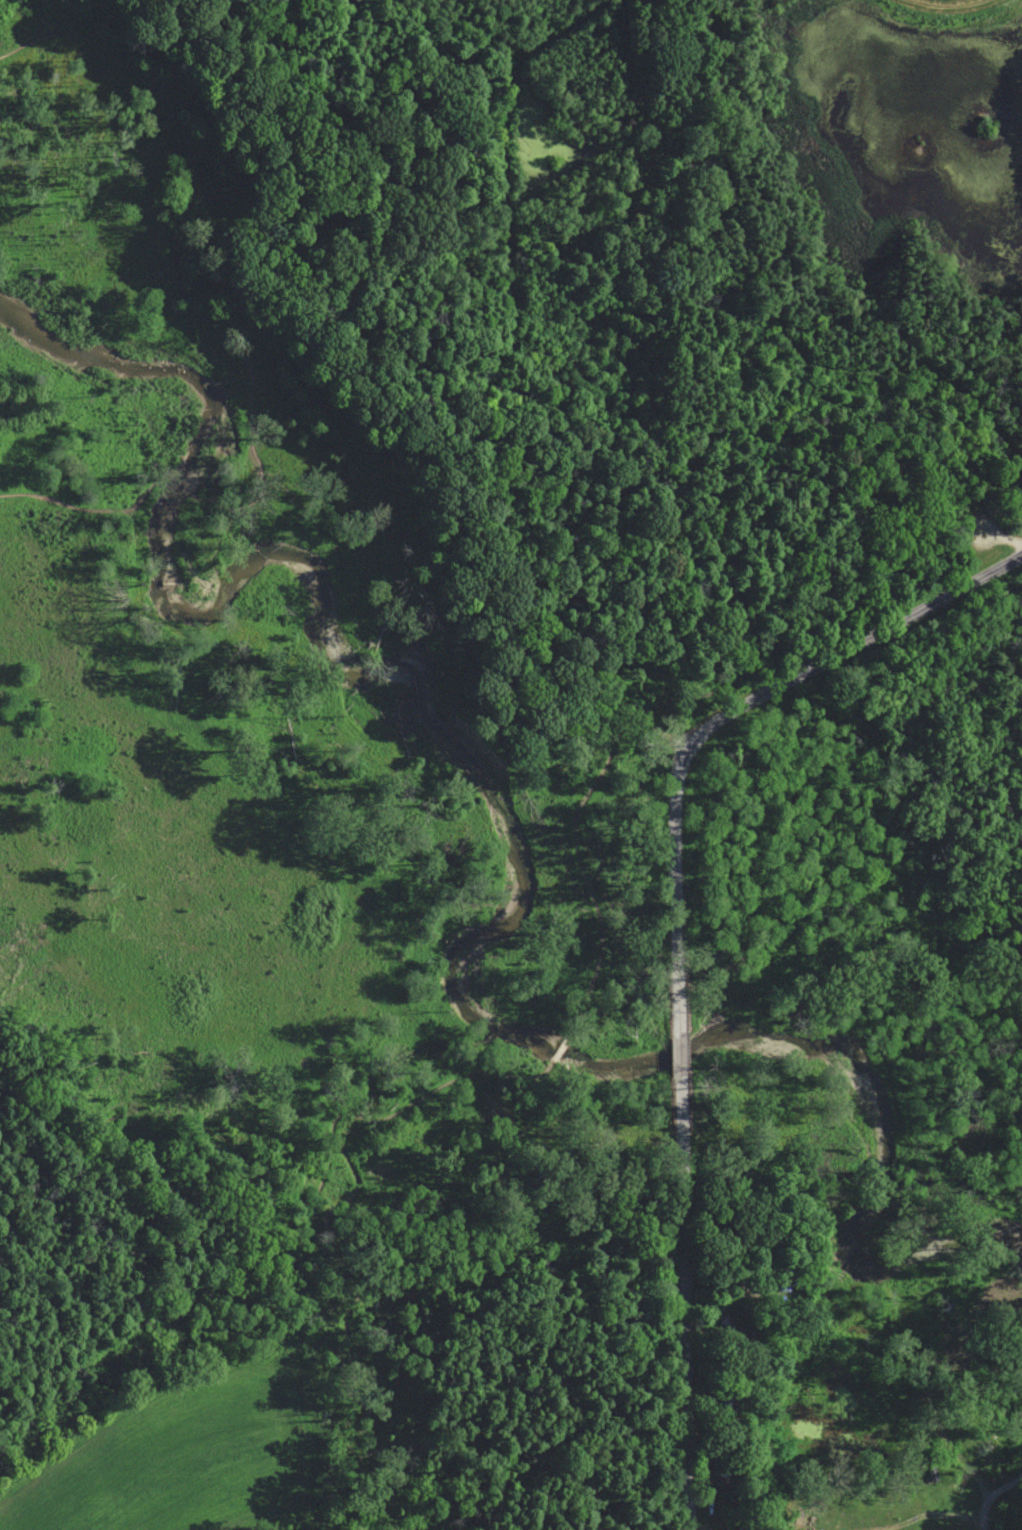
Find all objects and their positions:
road: (950, 4)
road: (869, 634)
road: (686, 1117)
road: (993, 1497)

